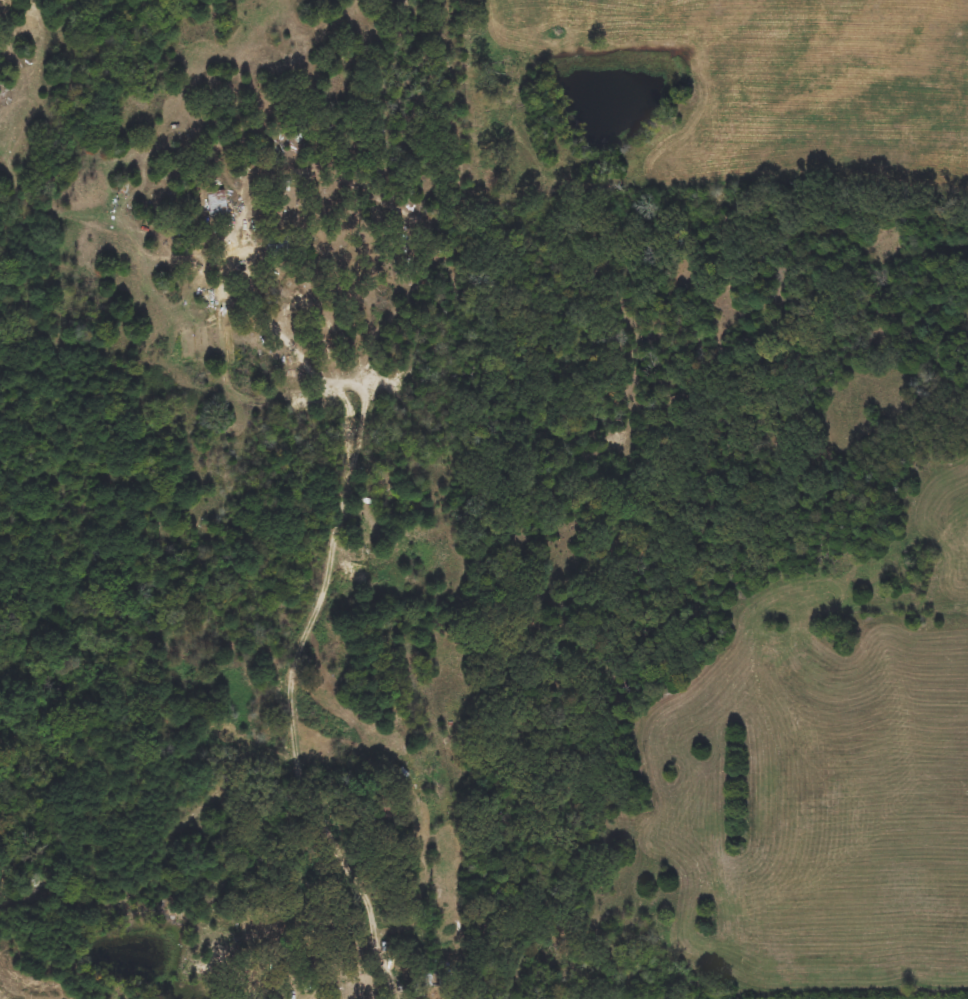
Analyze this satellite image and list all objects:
building: (277, 246)
road: (329, 563)
road: (419, 899)

